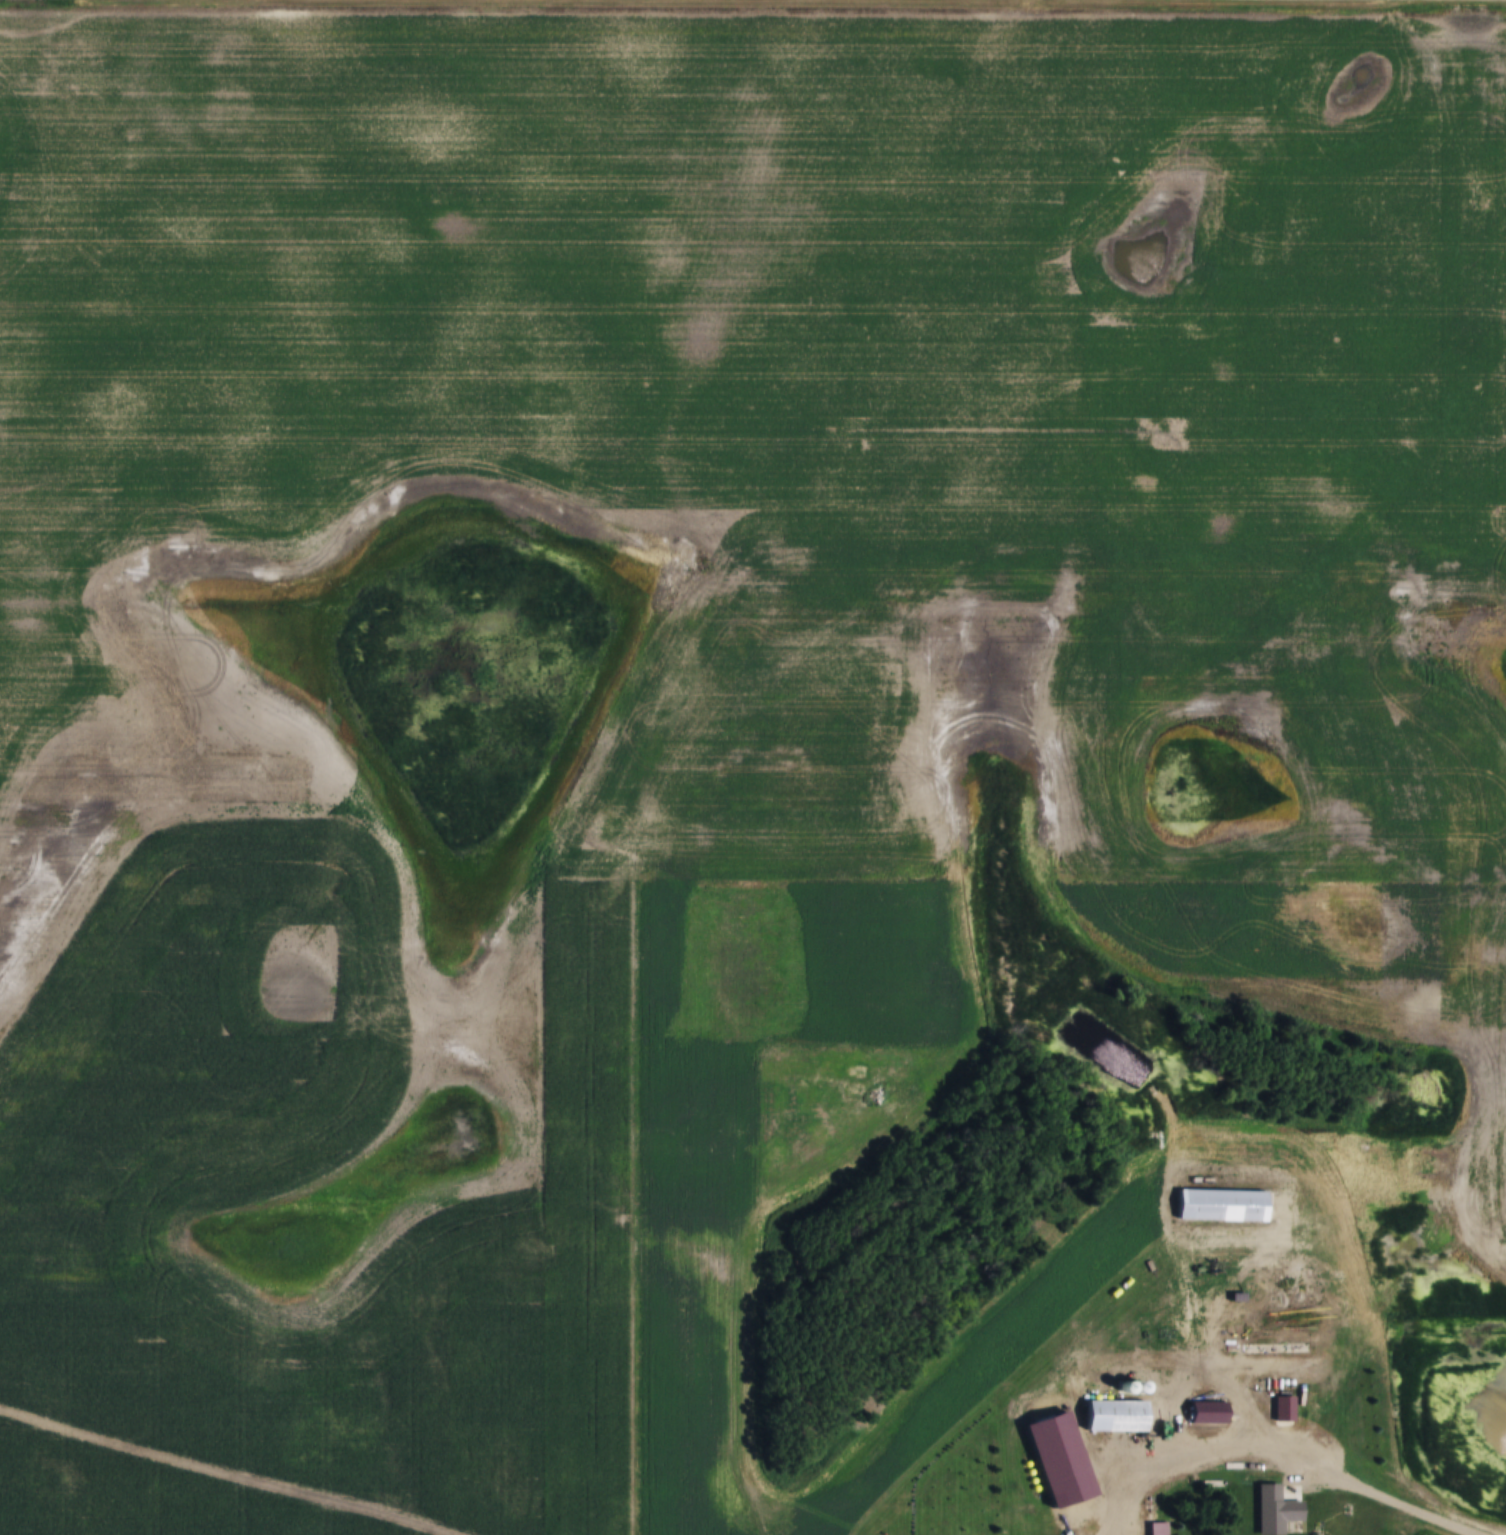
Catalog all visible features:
building: (1221, 1205)
building: (1207, 1307)
building: (1283, 1409)
building: (1207, 1413)
building: (1115, 1416)
building: (1269, 1510)

